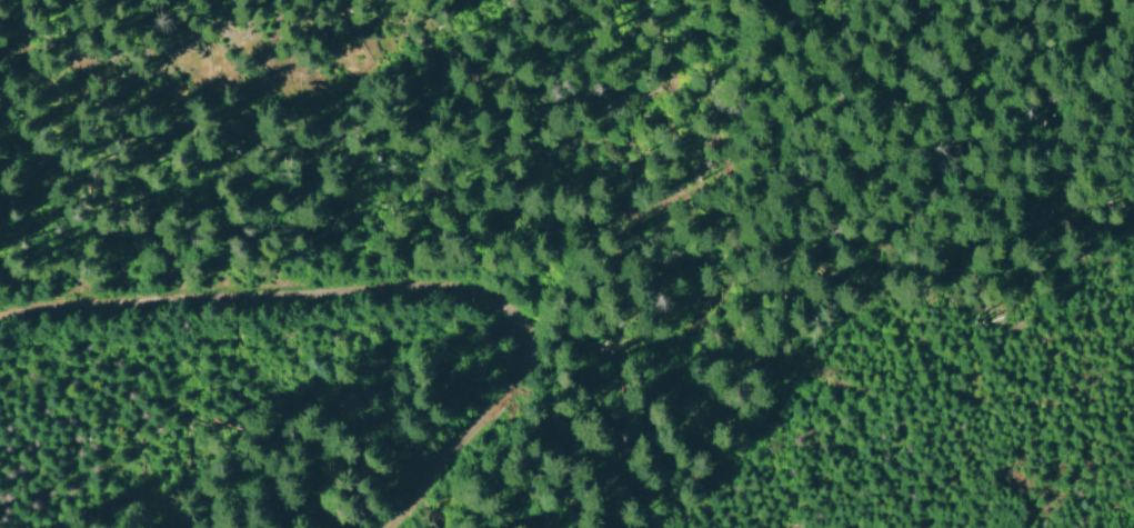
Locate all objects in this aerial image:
road: (385, 285)

